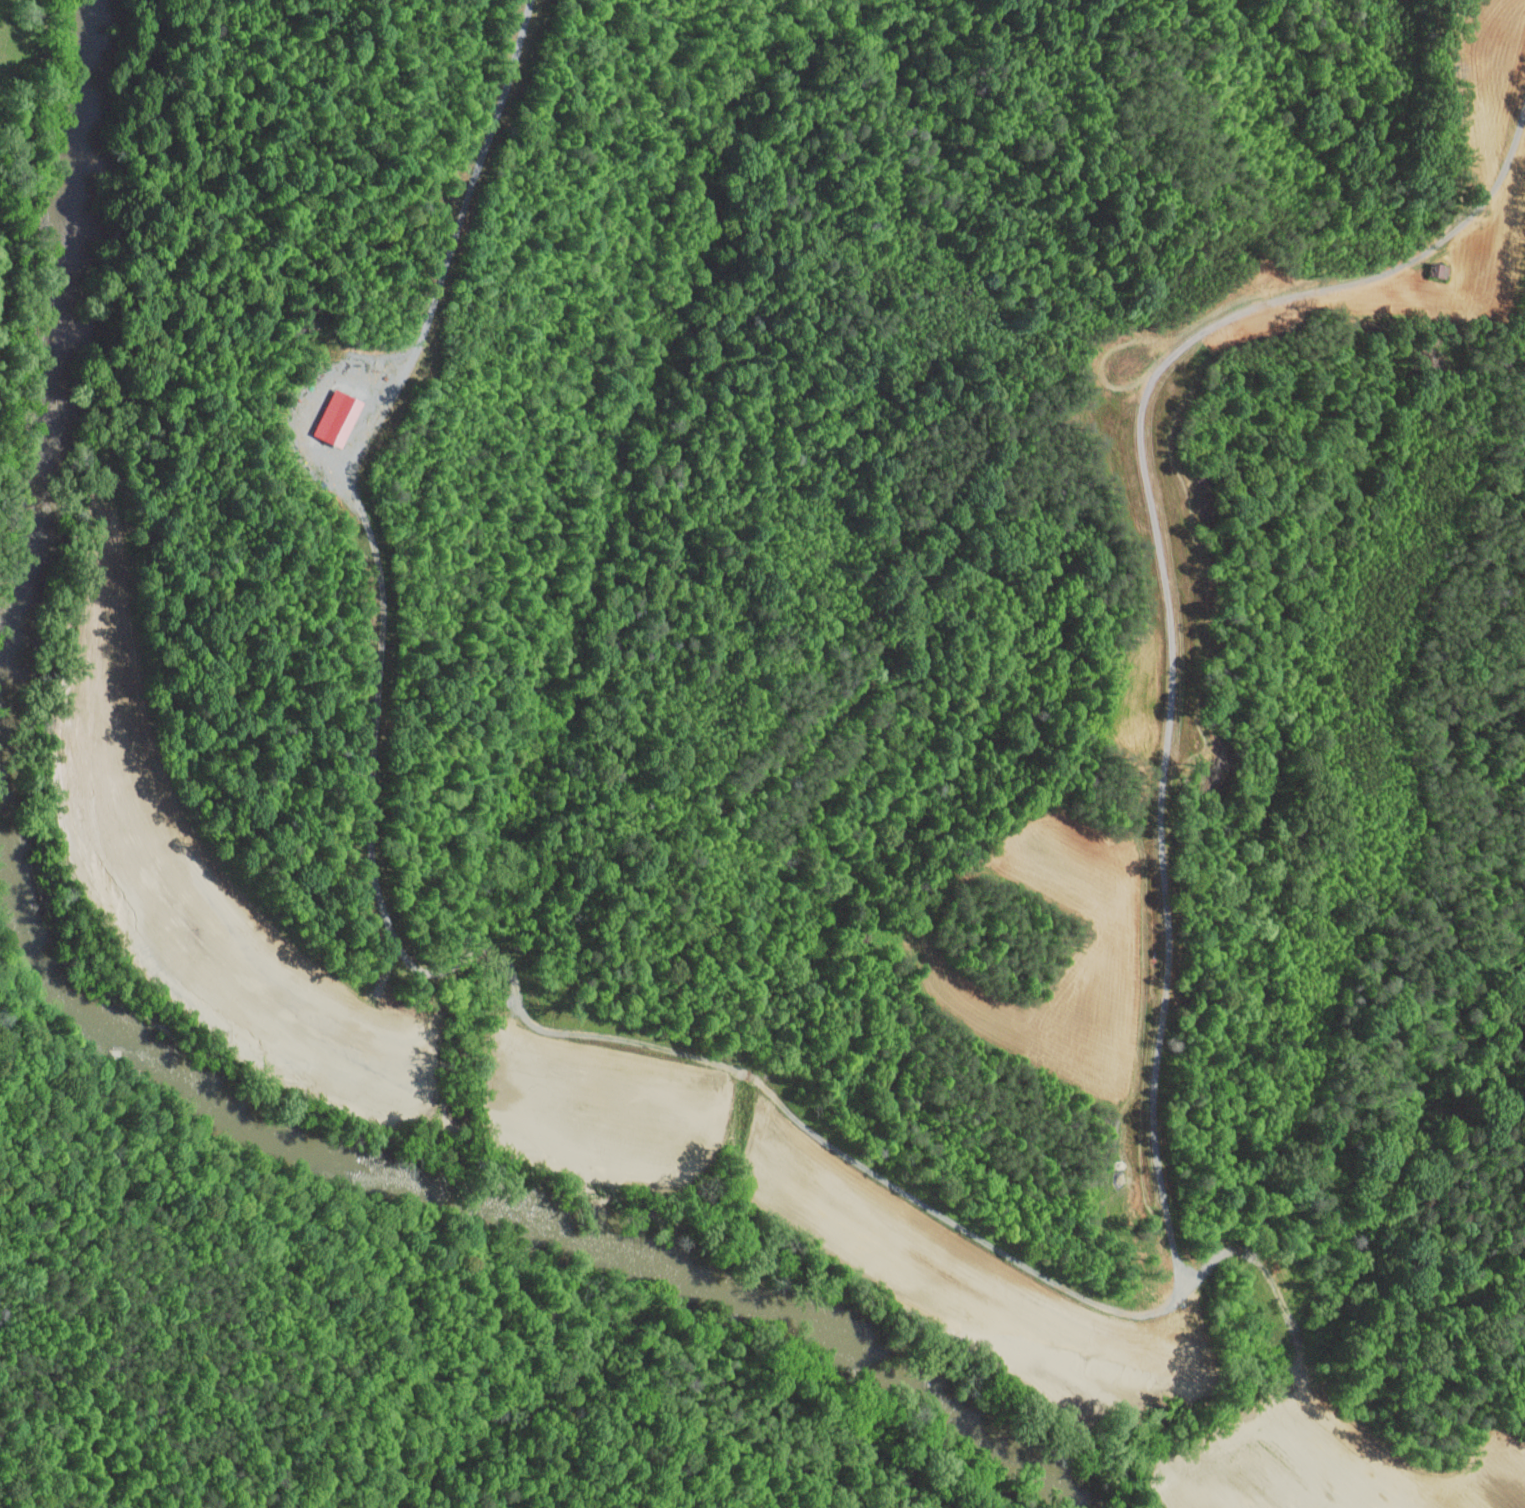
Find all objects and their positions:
river: (82, 113)
building: (328, 412)
river: (44, 464)
river: (175, 1079)
river: (787, 1313)

